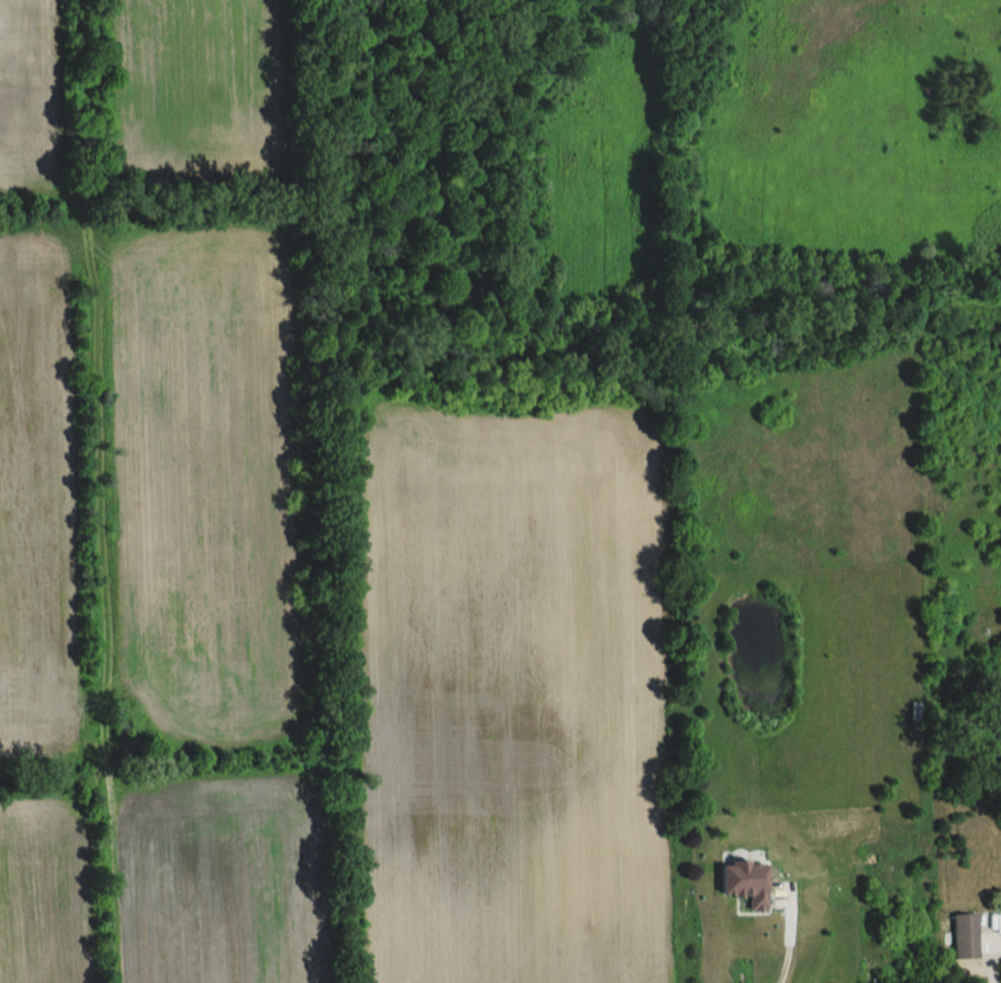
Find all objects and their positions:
crop: (196, 92)
crop: (29, 93)
crop: (202, 481)
crop: (38, 487)
crop: (506, 687)
crop: (219, 879)
building: (742, 882)
crop: (46, 891)
building: (964, 937)
road: (793, 939)
road: (998, 978)

